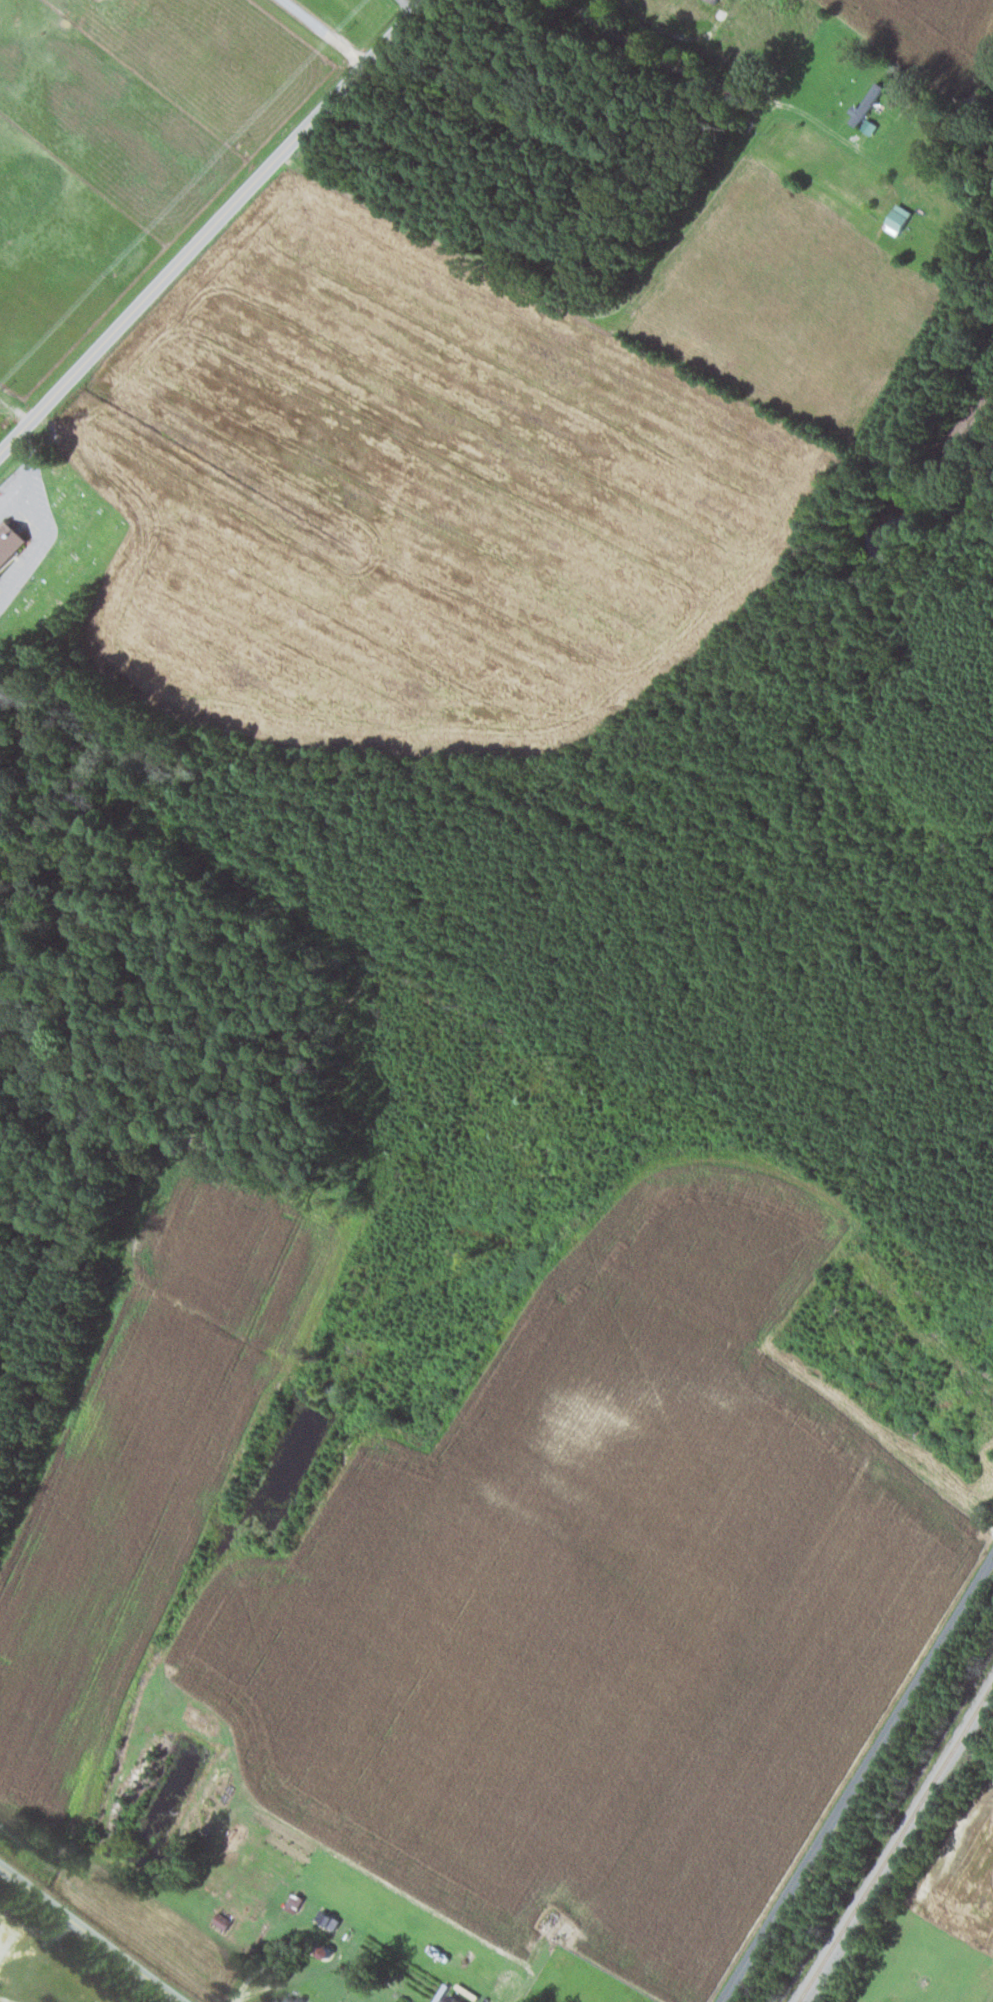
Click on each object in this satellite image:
building: (718, 1)
road: (665, 29)
road: (326, 31)
road: (699, 73)
building: (869, 101)
building: (871, 124)
building: (900, 218)
road: (212, 226)
building: (12, 543)
crop: (241, 1245)
crop: (110, 1551)
crop: (526, 1606)
road: (735, 1676)
crop: (784, 1739)
road: (855, 1777)
railway: (896, 1843)
crop: (964, 1869)
building: (296, 1901)
building: (329, 1919)
building: (223, 1920)
road: (55, 1934)
road: (90, 1935)
road: (333, 1939)
building: (326, 1951)
silo: (326, 1951)
park: (39, 1975)
building: (288, 1998)
road: (6, 1999)
road: (233, 1999)
building: (454, 1999)
building: (395, 2001)

